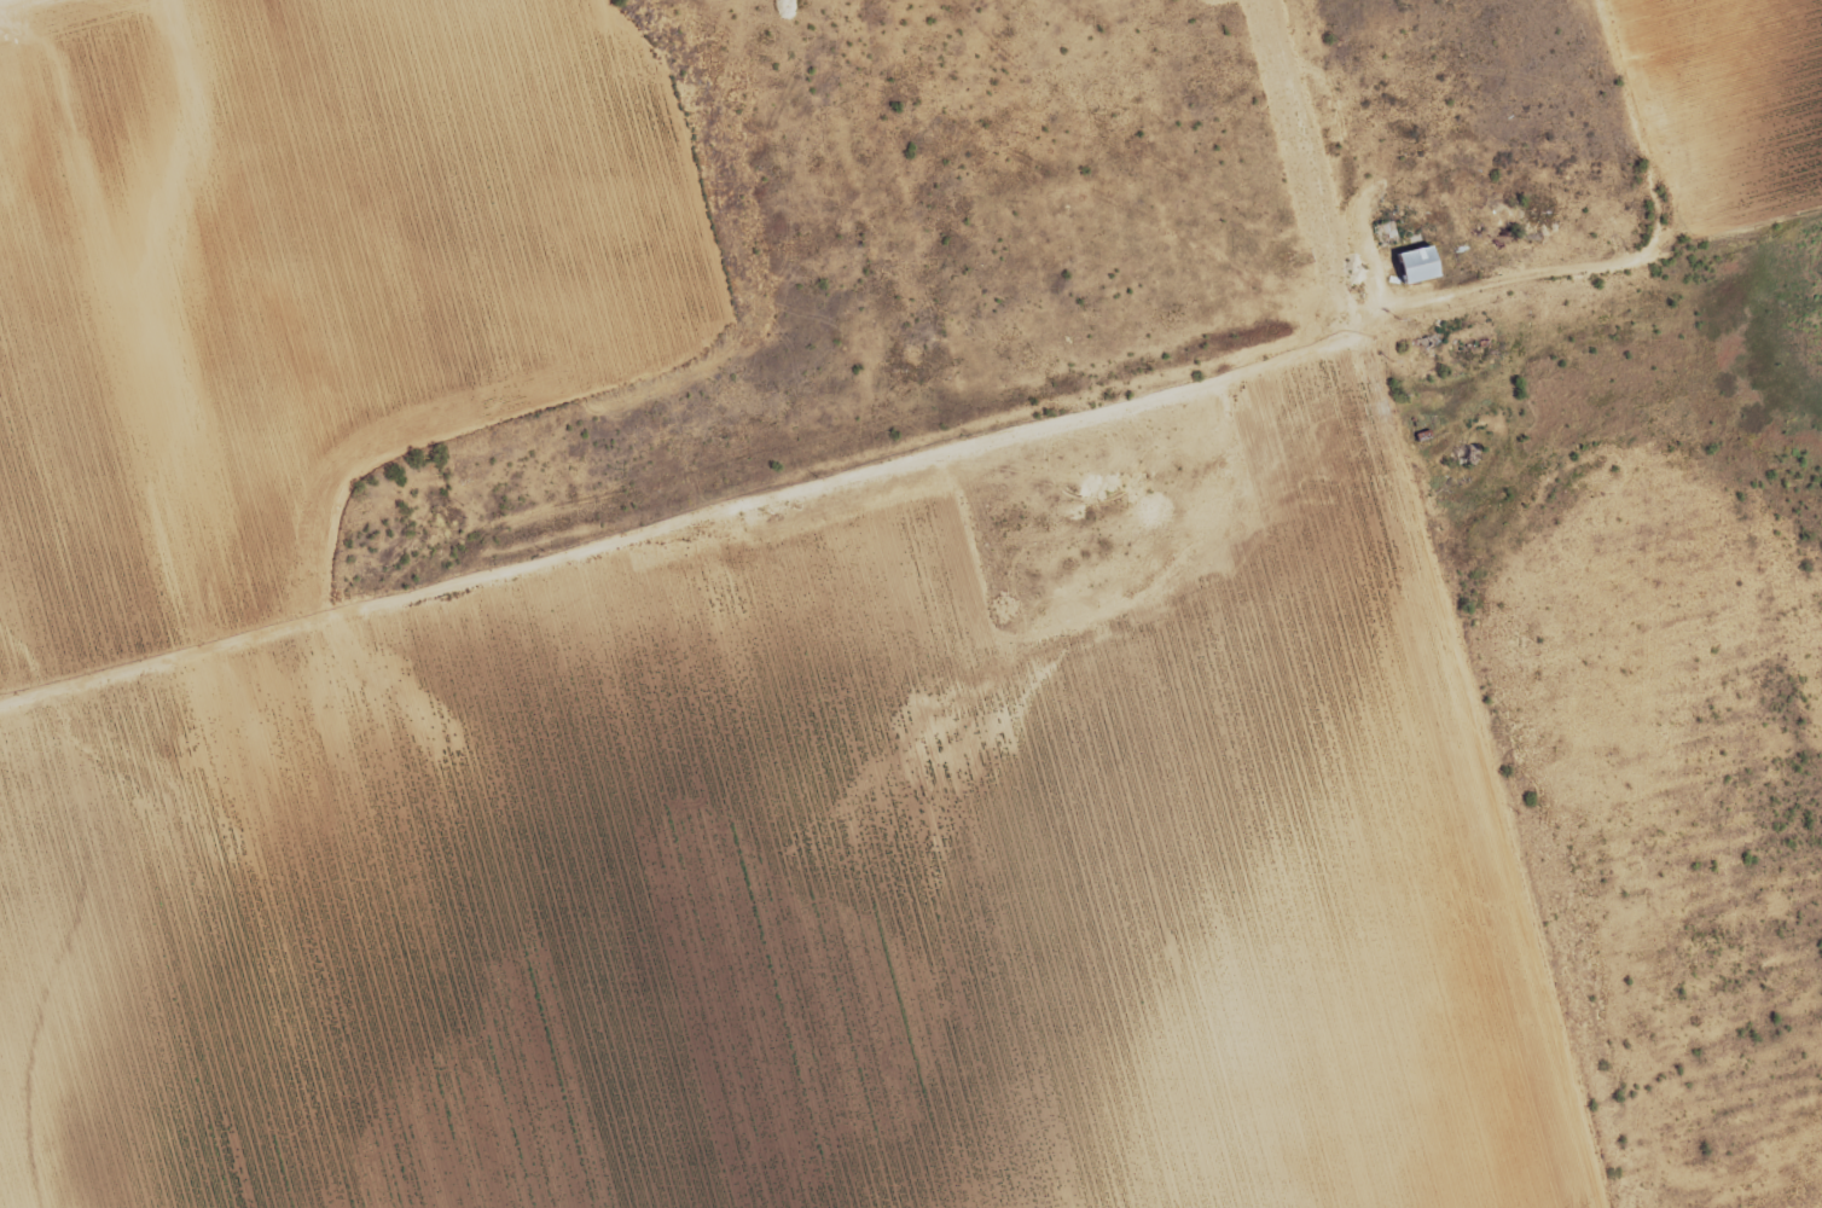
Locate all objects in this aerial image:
building: (1391, 232)
building: (1417, 265)

